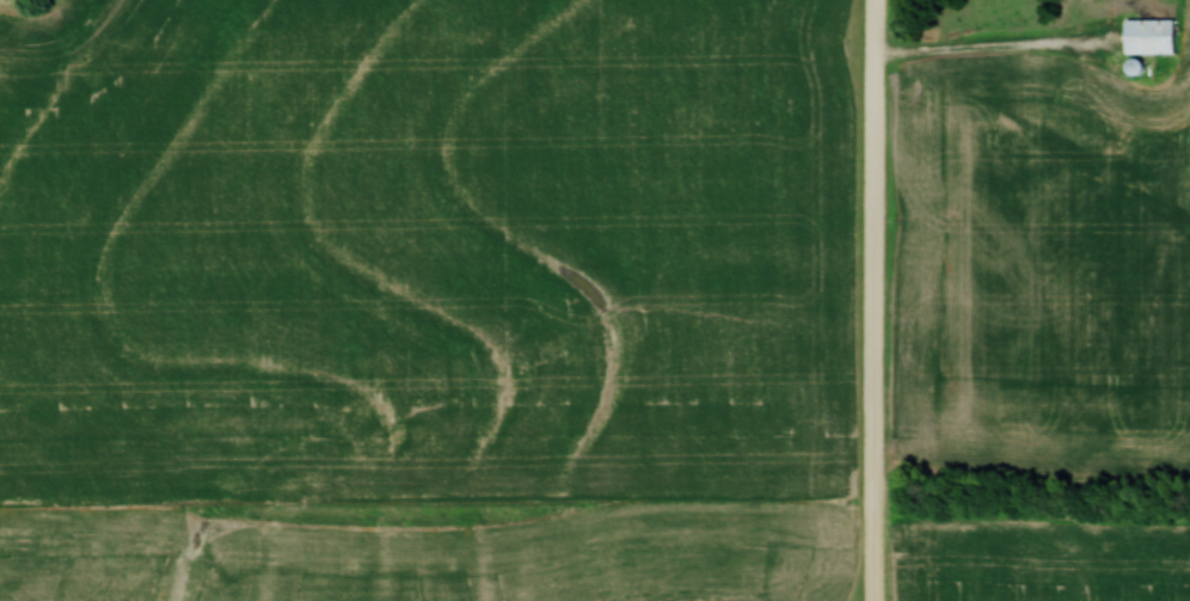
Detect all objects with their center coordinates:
building: (1145, 35)
road: (993, 54)
road: (877, 300)

